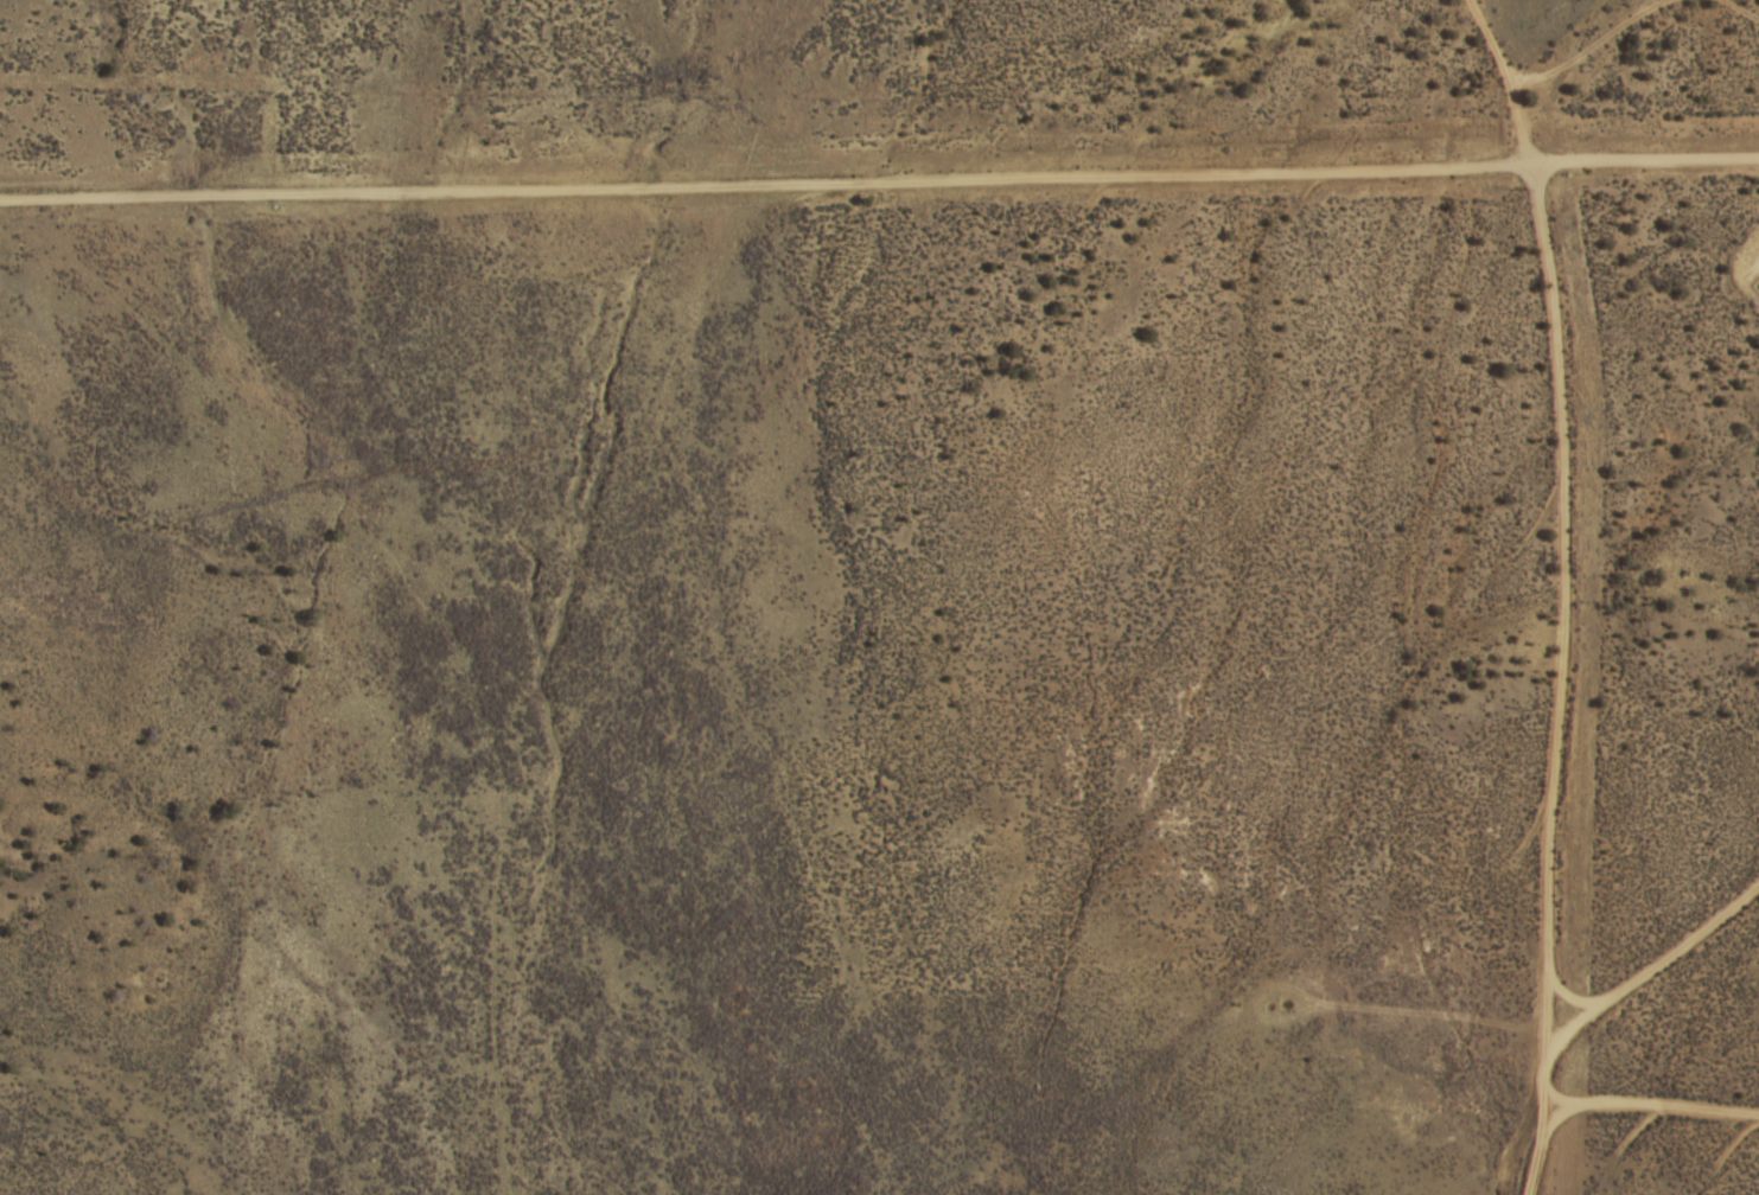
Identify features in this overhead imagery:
road: (1573, 590)
road: (1657, 969)

